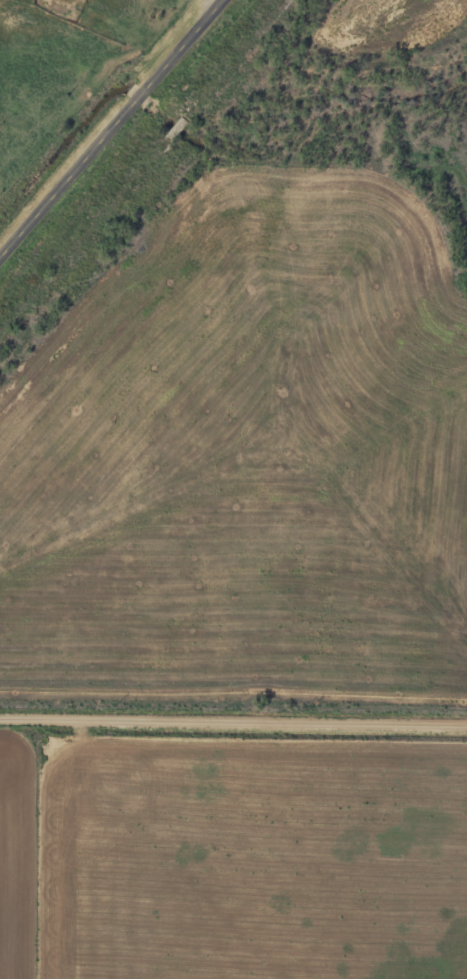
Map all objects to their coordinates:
road: (118, 136)
railway: (143, 165)
road: (233, 716)

